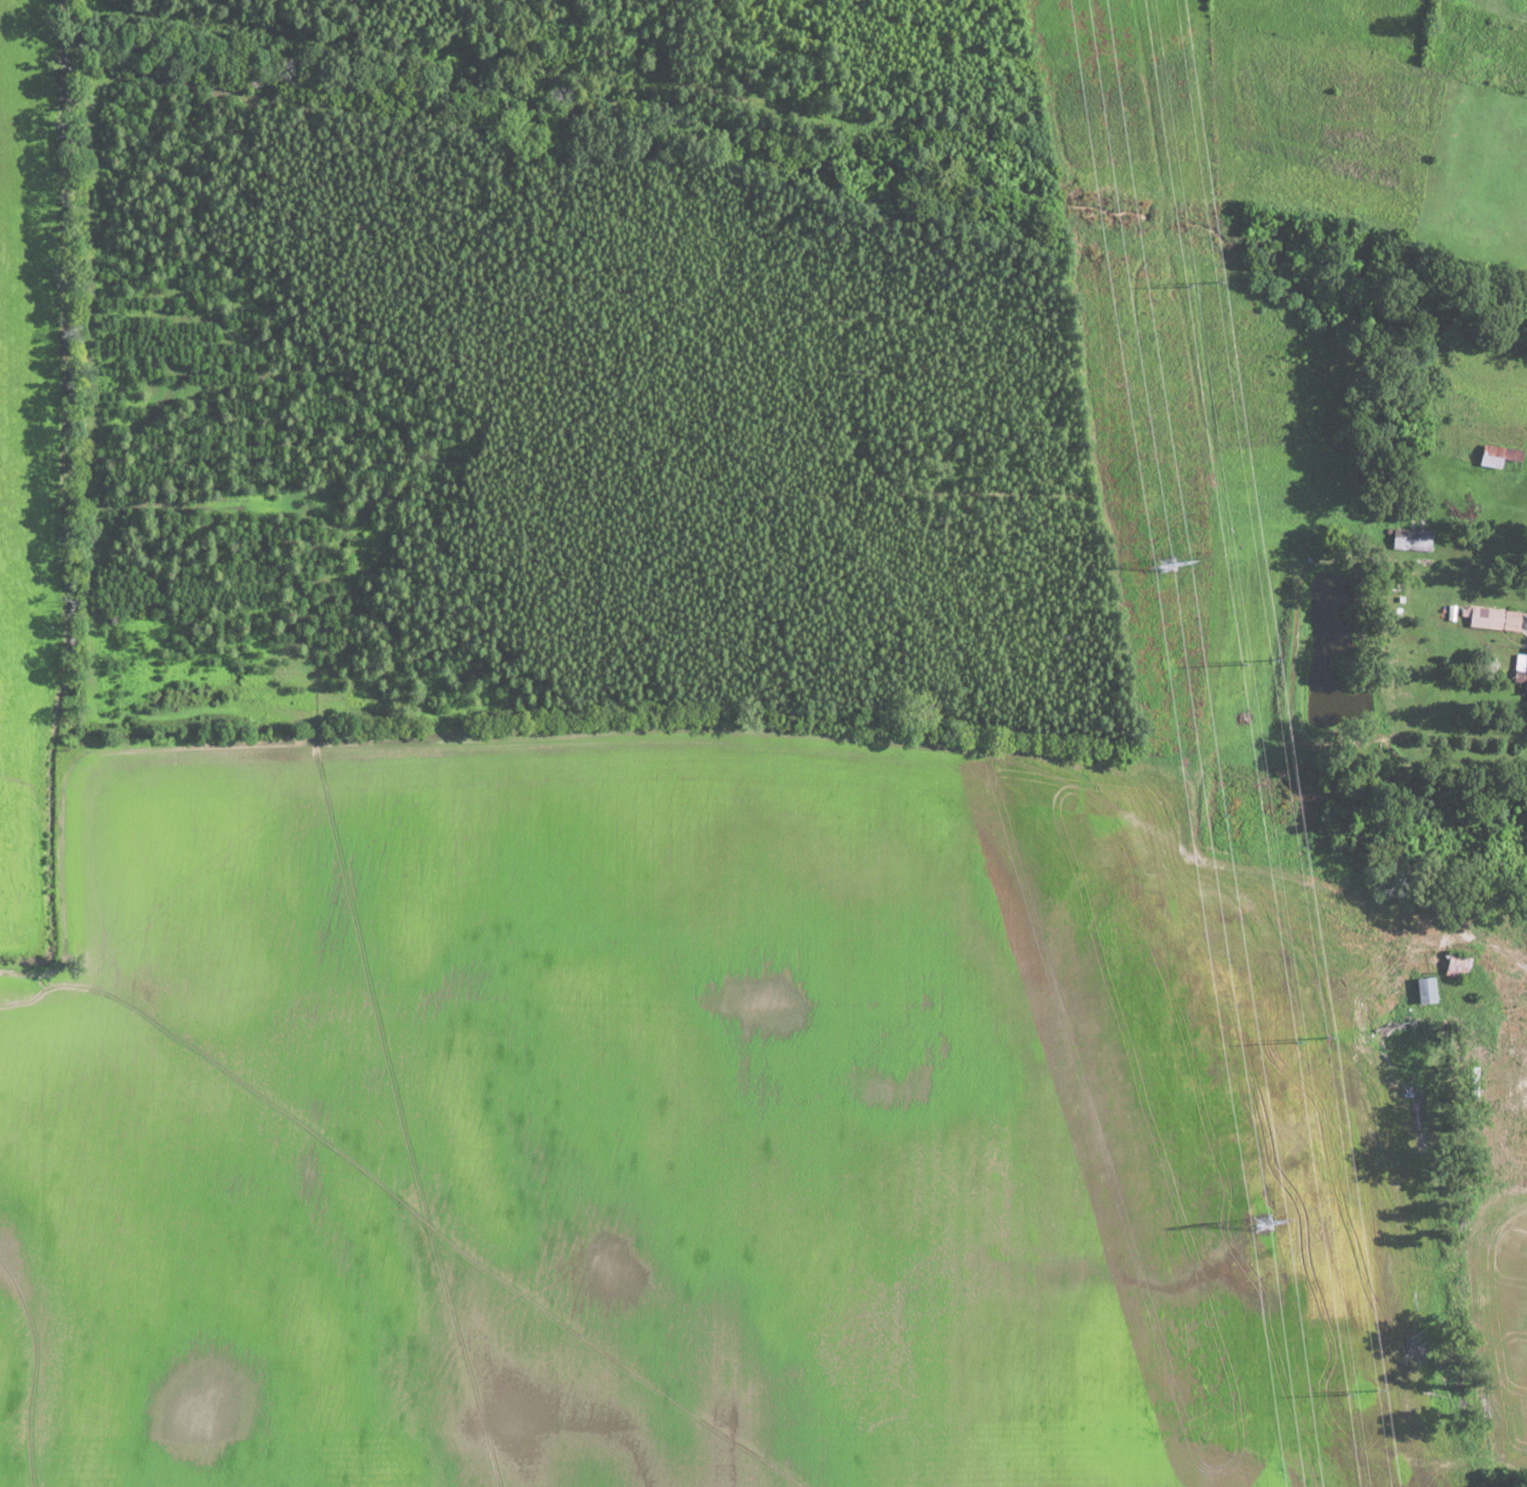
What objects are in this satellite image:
power tower: (1196, 284)
power tower: (1171, 562)
power tower: (1256, 695)
building: (1456, 966)
building: (1423, 989)
power tower: (1307, 1042)
power tower: (1264, 1221)

